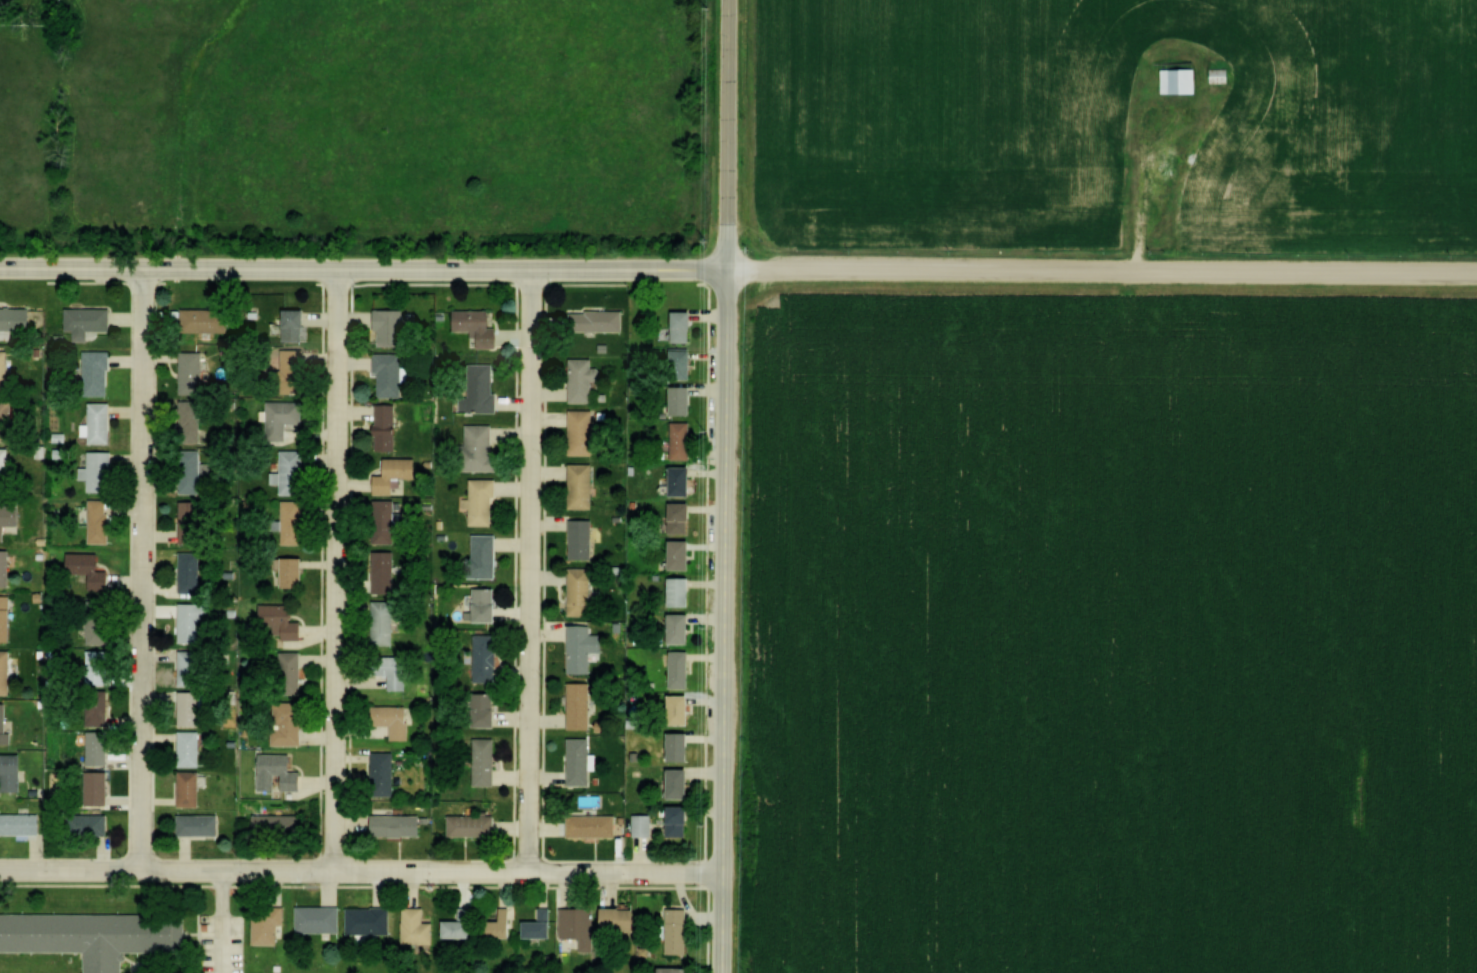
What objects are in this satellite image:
building: (1215, 74)
building: (1173, 79)
road: (728, 134)
building: (1191, 189)
road: (1147, 204)
road: (362, 268)
road: (1101, 270)
building: (17, 318)
building: (206, 319)
building: (598, 319)
building: (89, 320)
building: (298, 323)
building: (479, 324)
building: (686, 325)
building: (391, 326)
building: (686, 362)
building: (5, 370)
building: (293, 370)
building: (98, 372)
building: (193, 372)
building: (390, 373)
building: (584, 378)
building: (482, 388)
building: (685, 399)
building: (284, 417)
building: (7, 419)
building: (100, 422)
building: (388, 426)
building: (583, 431)
building: (683, 439)
building: (482, 446)
building: (191, 469)
building: (7, 470)
building: (101, 470)
building: (397, 473)
building: (686, 480)
building: (583, 485)
building: (484, 501)
building: (684, 516)
building: (9, 517)
building: (192, 520)
building: (385, 520)
building: (100, 521)
building: (294, 521)
building: (583, 538)
building: (684, 553)
building: (487, 555)
building: (5, 567)
building: (90, 568)
building: (296, 570)
road: (144, 571)
building: (191, 571)
road: (338, 571)
building: (385, 571)
road: (531, 571)
building: (582, 590)
building: (684, 590)
building: (488, 602)
building: (6, 617)
building: (192, 619)
building: (283, 620)
road: (724, 620)
building: (99, 621)
building: (384, 621)
building: (684, 626)
crop: (1112, 631)
building: (585, 647)
building: (486, 657)
building: (190, 666)
building: (97, 667)
building: (682, 668)
building: (395, 670)
building: (6, 671)
building: (288, 694)
building: (581, 704)
building: (190, 707)
building: (485, 708)
building: (683, 709)
building: (97, 713)
building: (5, 722)
building: (392, 722)
building: (684, 745)
building: (99, 746)
building: (191, 748)
building: (581, 760)
building: (486, 761)
building: (13, 771)
building: (280, 772)
building: (384, 773)
building: (683, 782)
building: (99, 787)
building: (191, 787)
building: (682, 820)
building: (22, 823)
building: (200, 823)
building: (279, 823)
building: (399, 824)
building: (474, 824)
building: (644, 824)
building: (95, 825)
building: (593, 825)
road: (361, 874)
building: (622, 917)
building: (320, 919)
building: (369, 919)
building: (578, 921)
building: (462, 923)
road: (216, 924)
building: (269, 924)
building: (503, 924)
building: (541, 924)
building: (418, 926)
building: (680, 930)
building: (94, 935)
building: (679, 969)

